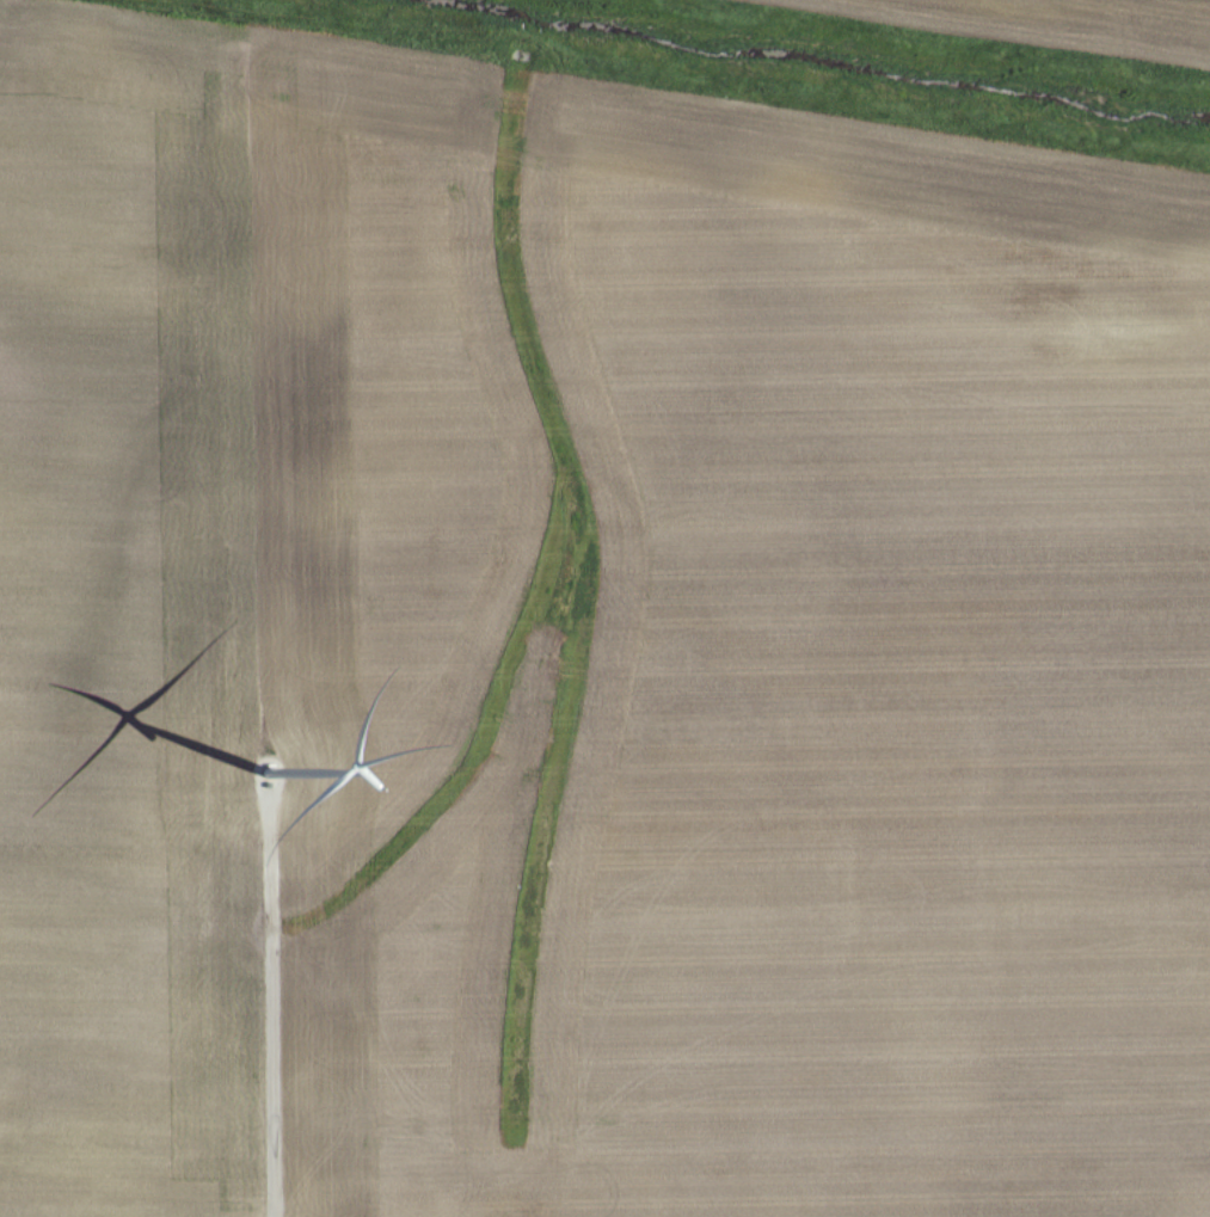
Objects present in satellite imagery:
wind turbine: (269, 769)
road: (274, 1004)

